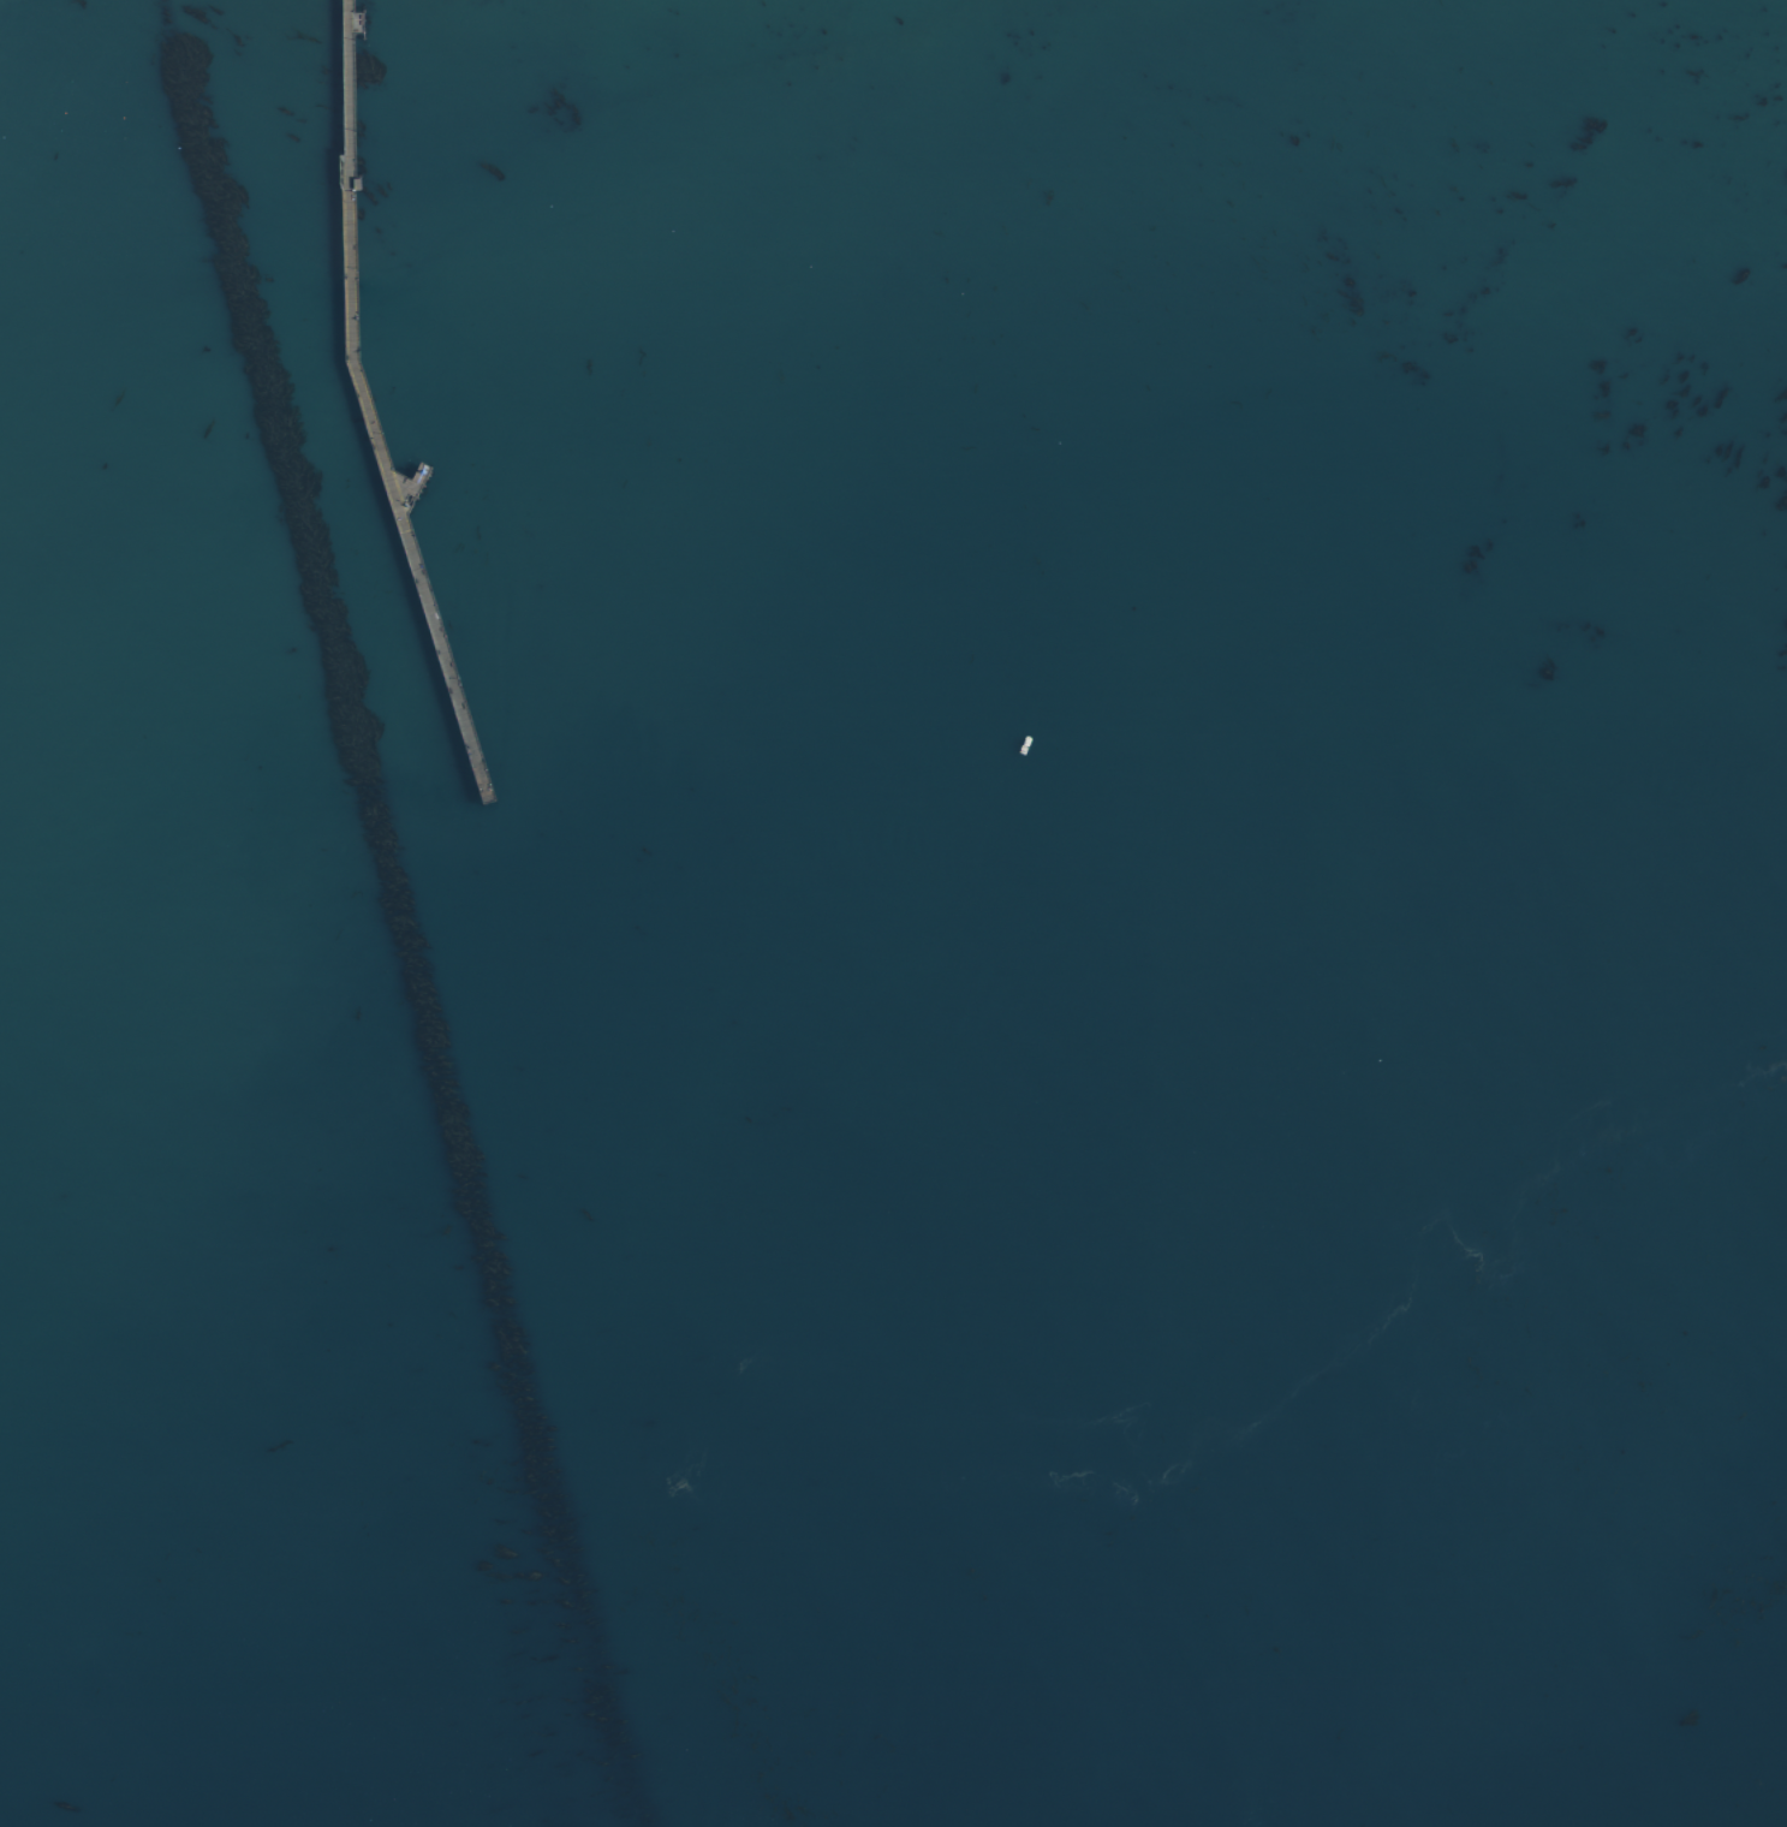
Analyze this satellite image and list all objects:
road: (363, 405)
pier: (367, 412)

